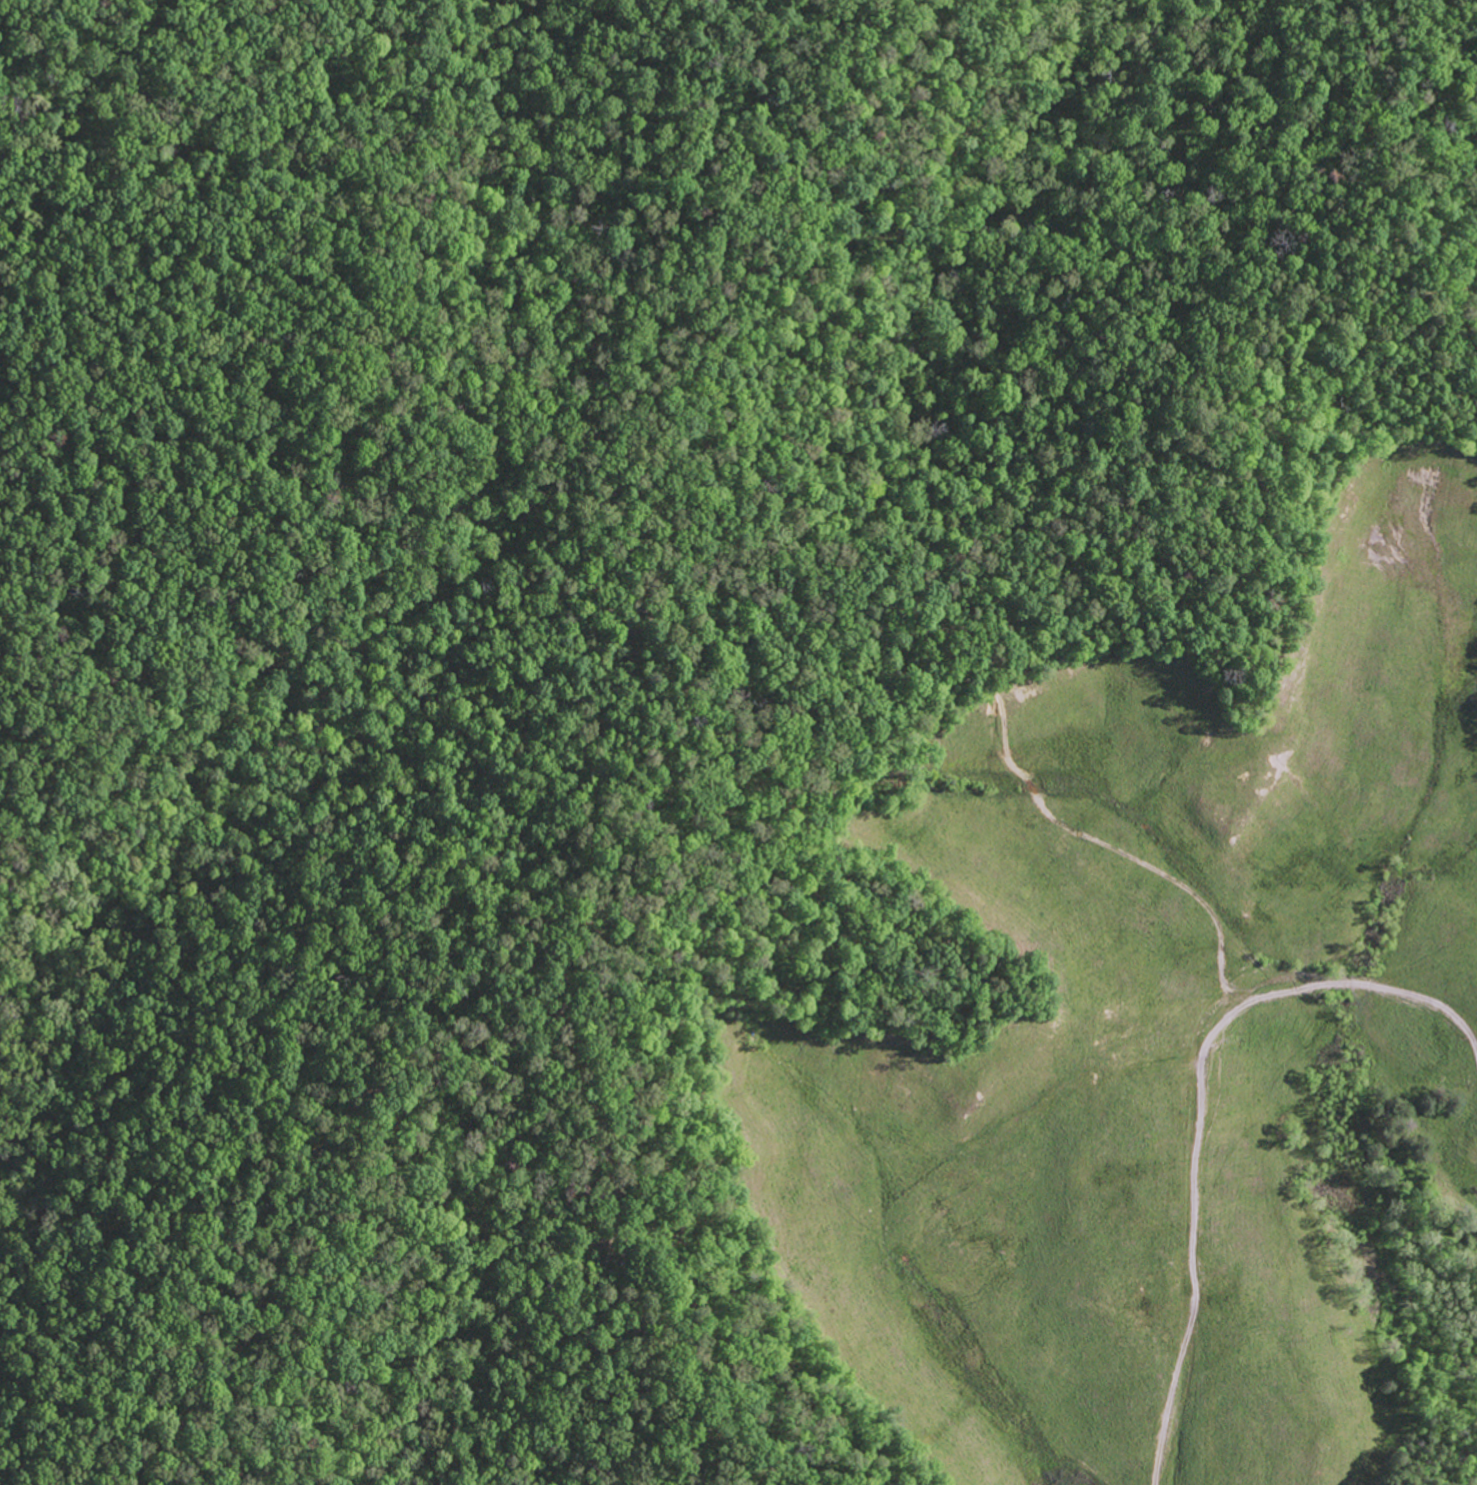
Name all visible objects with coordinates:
road: (609, 663)
road: (1203, 1106)

